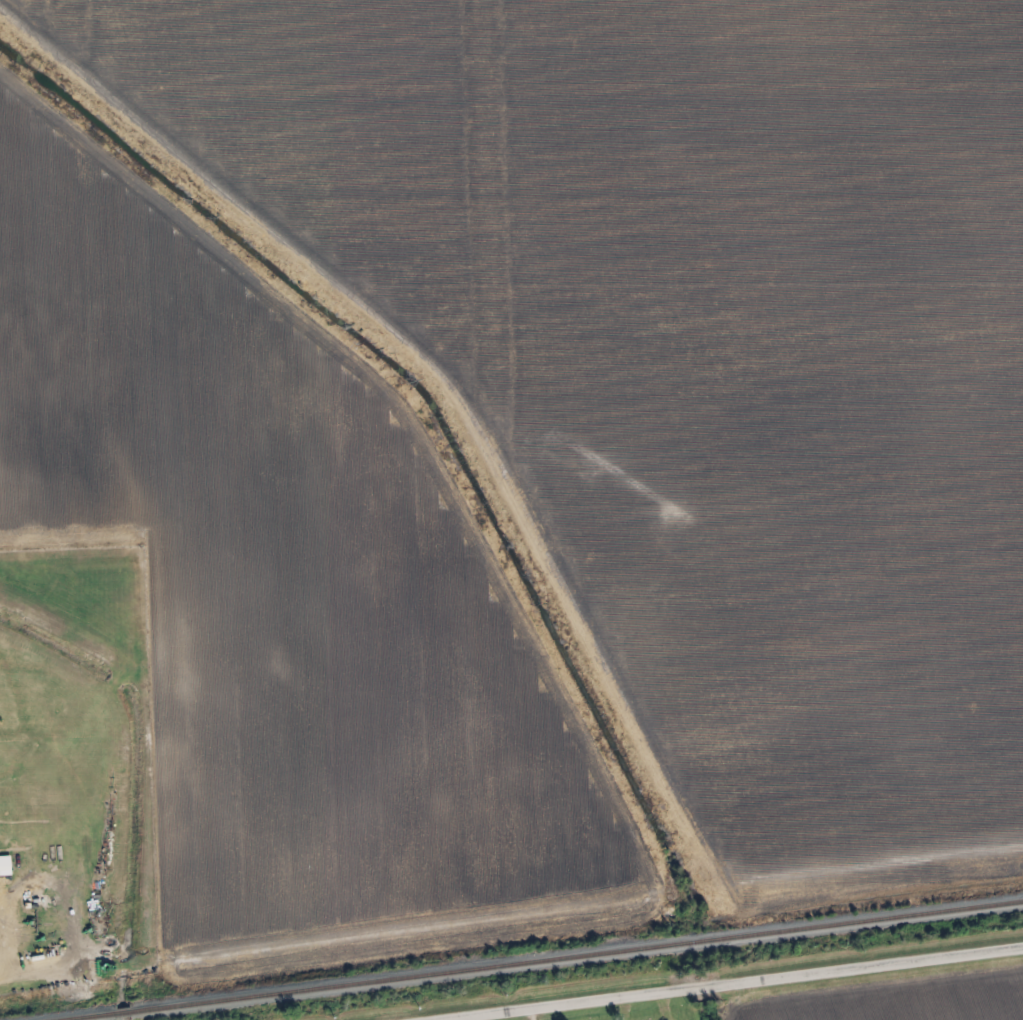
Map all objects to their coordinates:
building: (7, 867)
railway: (544, 960)
road: (739, 983)

